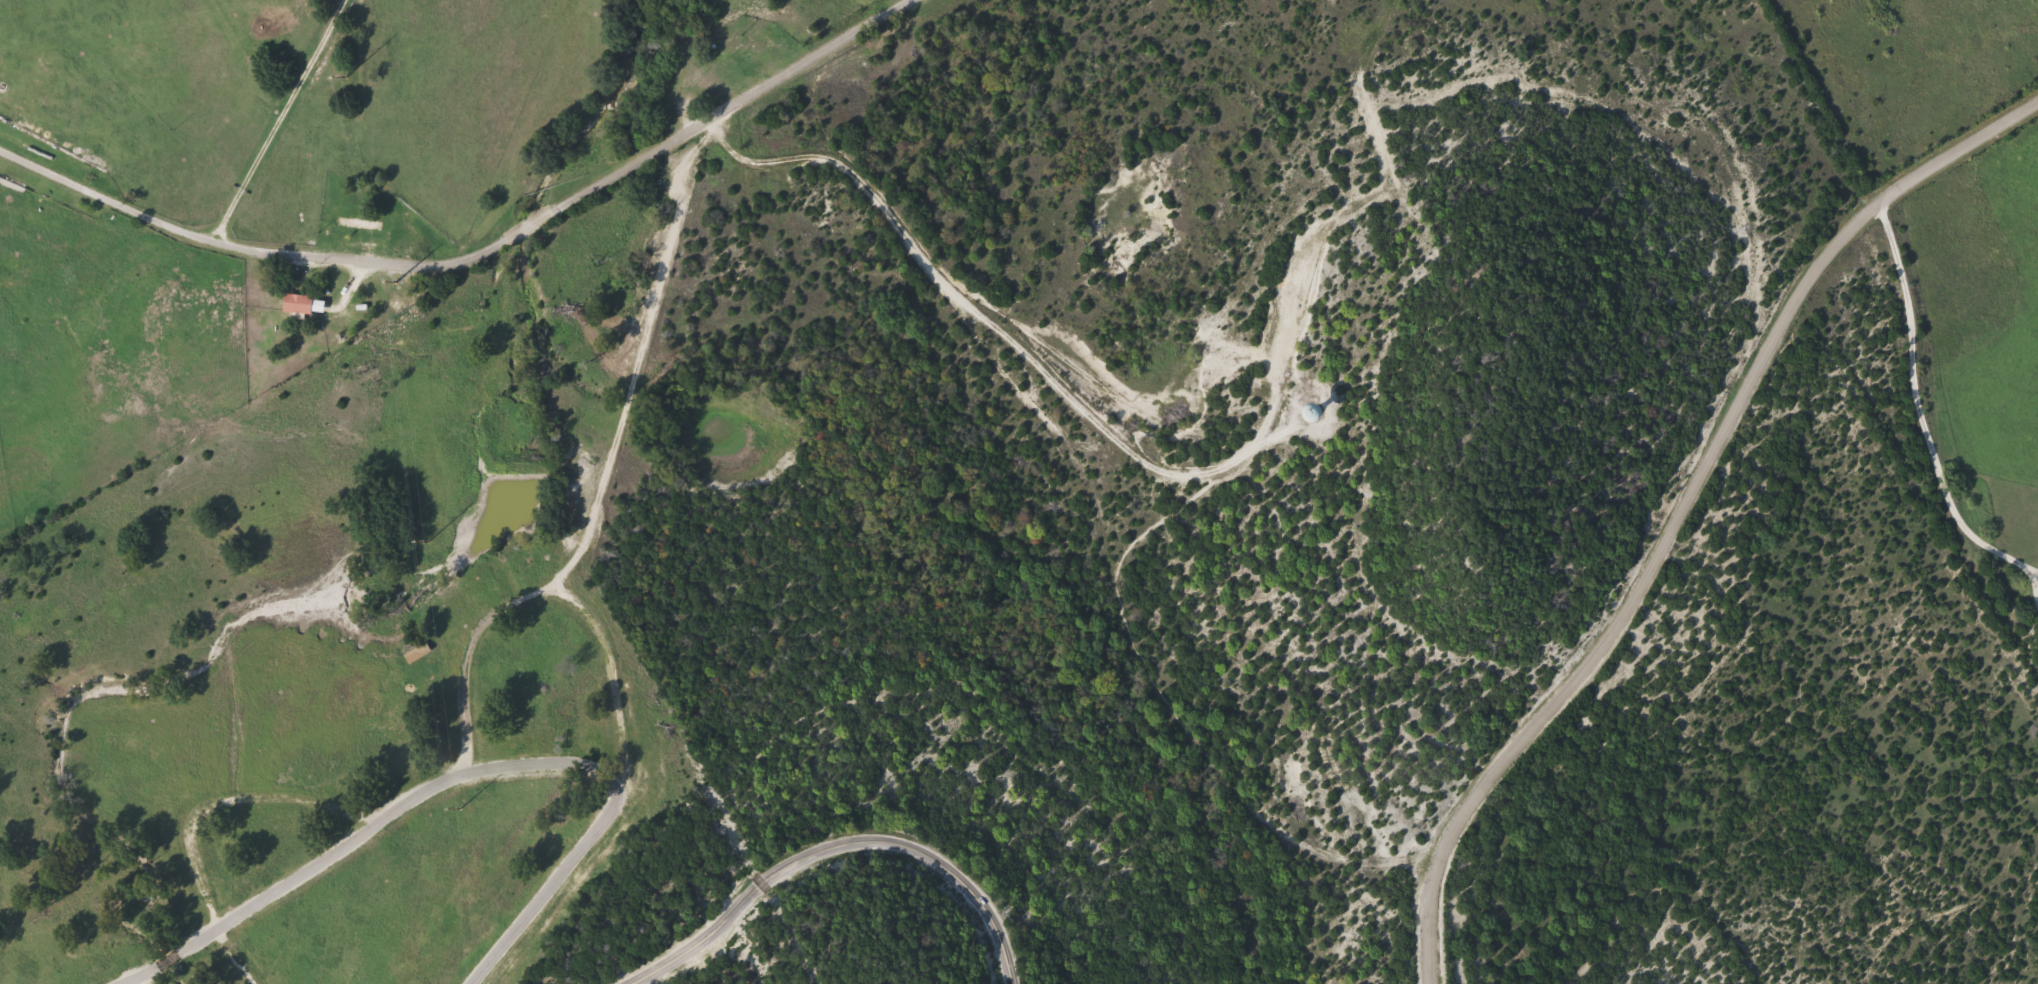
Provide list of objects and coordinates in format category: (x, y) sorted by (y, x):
building: (762, 50)
building: (692, 74)
road: (281, 120)
road: (1395, 182)
building: (360, 224)
road: (477, 255)
building: (300, 305)
road: (634, 360)
road: (1276, 385)
road: (1076, 403)
road: (1918, 408)
road: (1087, 493)
road: (1676, 506)
road: (465, 648)
road: (836, 843)
road: (278, 893)
road: (167, 960)
road: (134, 975)

